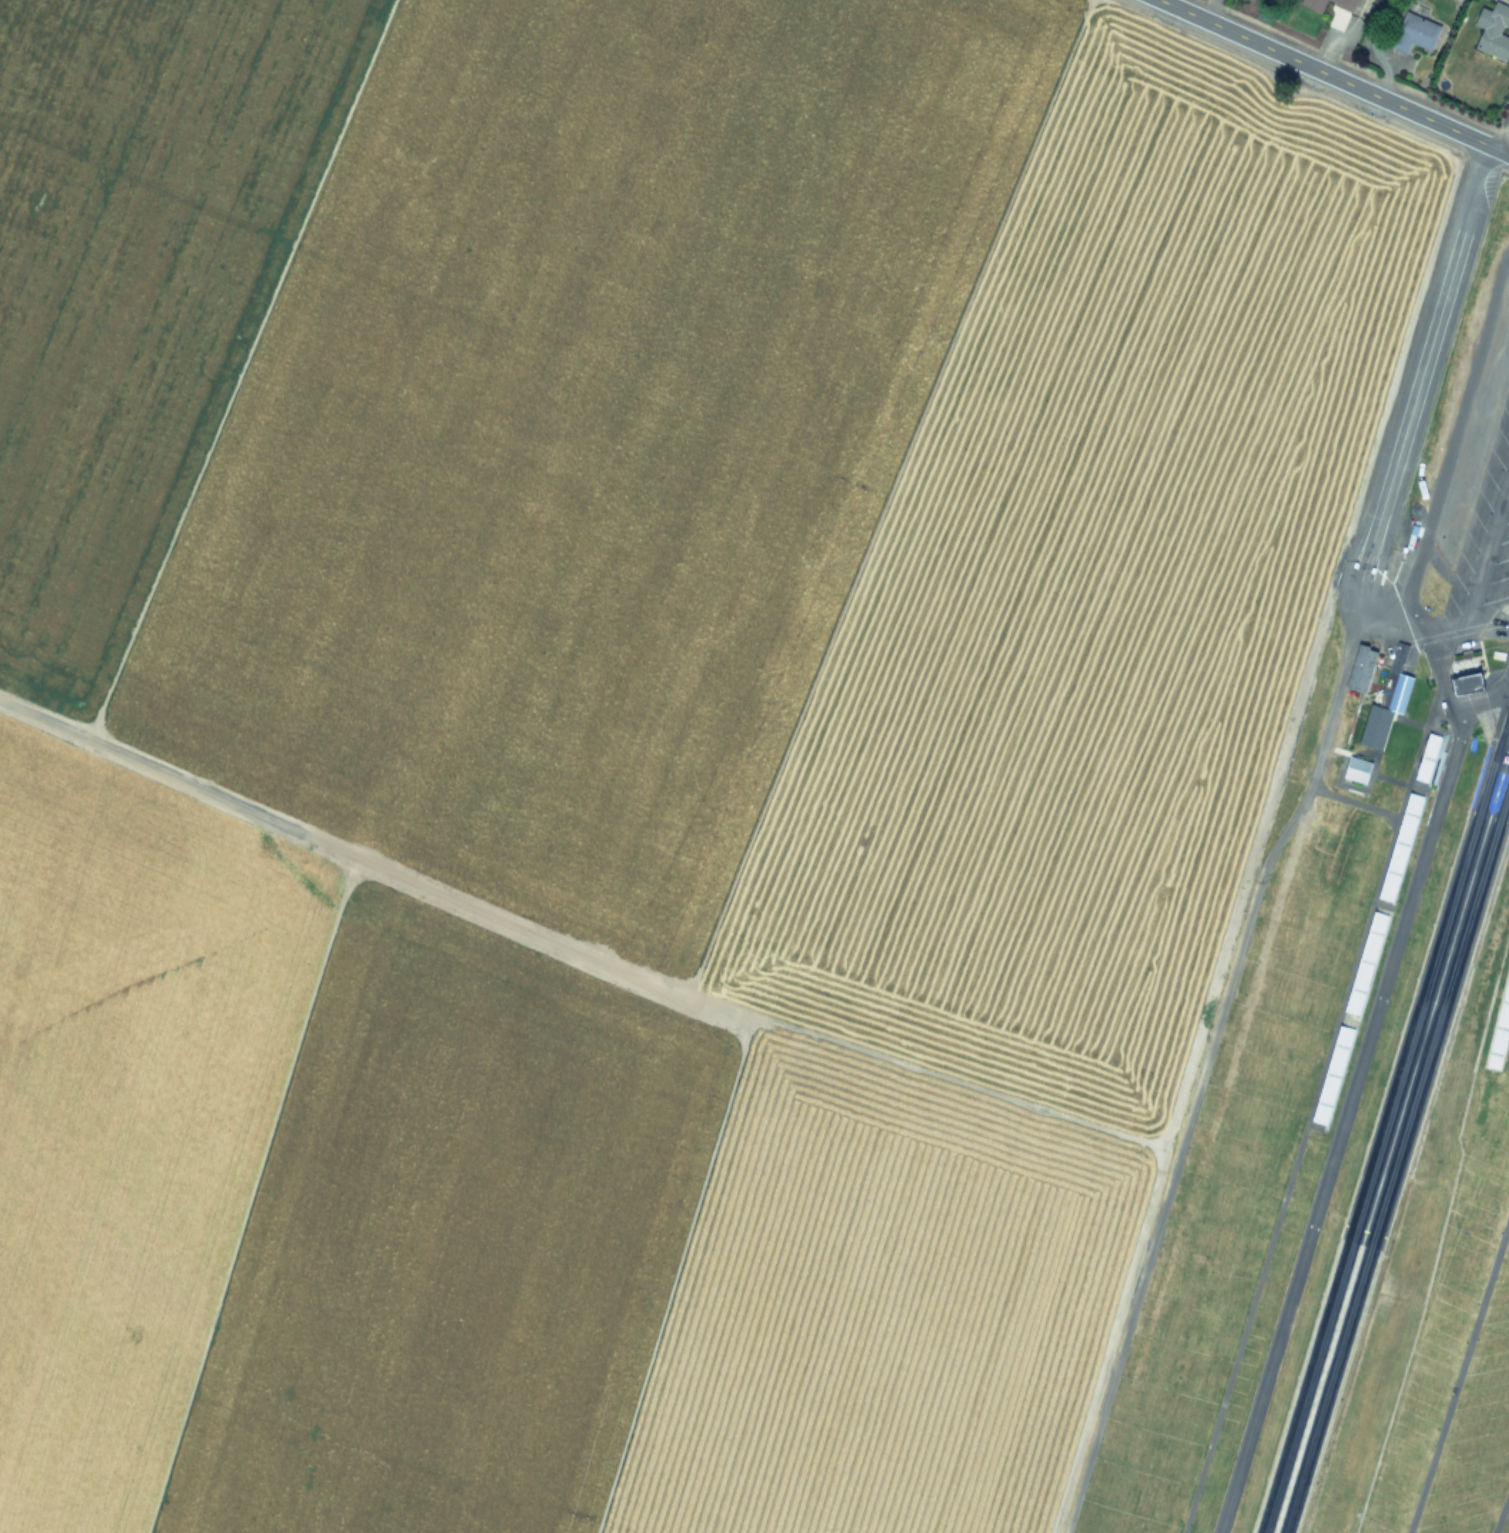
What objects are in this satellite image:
building: (1334, 5)
building: (1416, 34)
building: (1496, 34)
road: (1331, 77)
road: (1503, 138)
road: (1451, 437)
road: (1393, 465)
road: (1479, 561)
building: (1357, 669)
building: (1392, 680)
building: (1462, 683)
crop: (633, 733)
stadium: (1424, 758)
building: (1354, 770)
road: (1349, 799)
stadium: (1398, 847)
stadium: (1362, 963)
stadium: (1498, 1029)
road: (1204, 1069)
stadium: (1329, 1075)
stadium: (1478, 1109)
road: (1338, 1134)
raceway: (1391, 1137)
road: (1459, 1376)
road: (1501, 1512)

